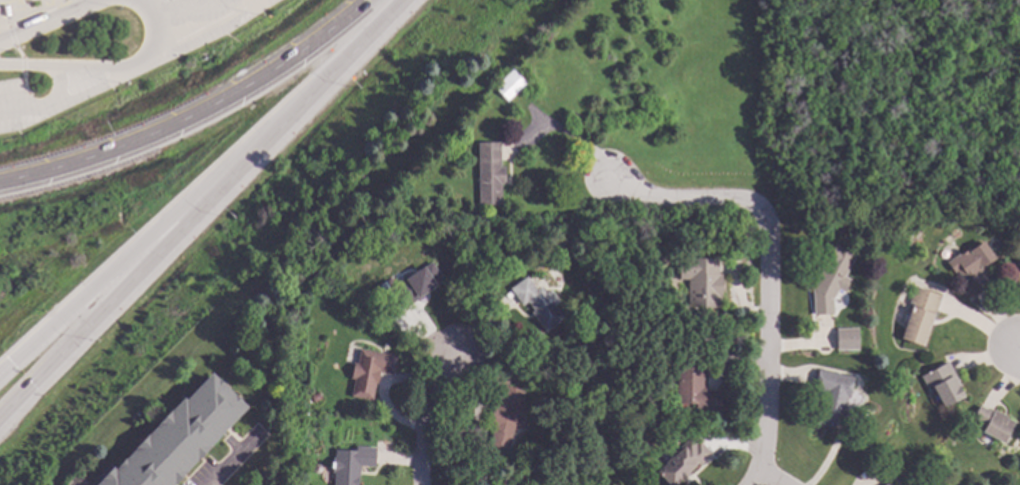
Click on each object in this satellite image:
parking lot: (4, 0)
road: (182, 8)
building: (4, 11)
road: (54, 16)
road: (4, 20)
road: (3, 27)
road: (207, 29)
road: (7, 35)
road: (10, 36)
road: (17, 52)
road: (10, 61)
parking lot: (104, 64)
road: (21, 65)
road: (114, 65)
road: (22, 82)
road: (59, 83)
building: (508, 84)
road: (70, 97)
road: (304, 102)
park: (899, 106)
road: (193, 113)
road: (590, 151)
building: (488, 173)
road: (696, 199)
building: (662, 258)
building: (1017, 265)
building: (327, 267)
building: (970, 267)
building: (477, 270)
building: (829, 279)
building: (700, 280)
building: (414, 284)
road: (99, 286)
building: (537, 302)
road: (99, 311)
building: (918, 314)
building: (693, 335)
road: (766, 344)
building: (843, 348)
road: (1014, 359)
building: (664, 360)
traffic signals: (13, 363)
building: (368, 371)
traffic signals: (34, 384)
building: (942, 384)
building: (694, 389)
building: (313, 395)
building: (830, 396)
road: (424, 414)
building: (503, 416)
building: (991, 422)
building: (642, 434)
building: (176, 437)
building: (612, 444)
building: (680, 461)
road: (231, 463)
building: (350, 464)
building: (315, 467)
road: (762, 482)
road: (770, 482)
building: (888, 483)

